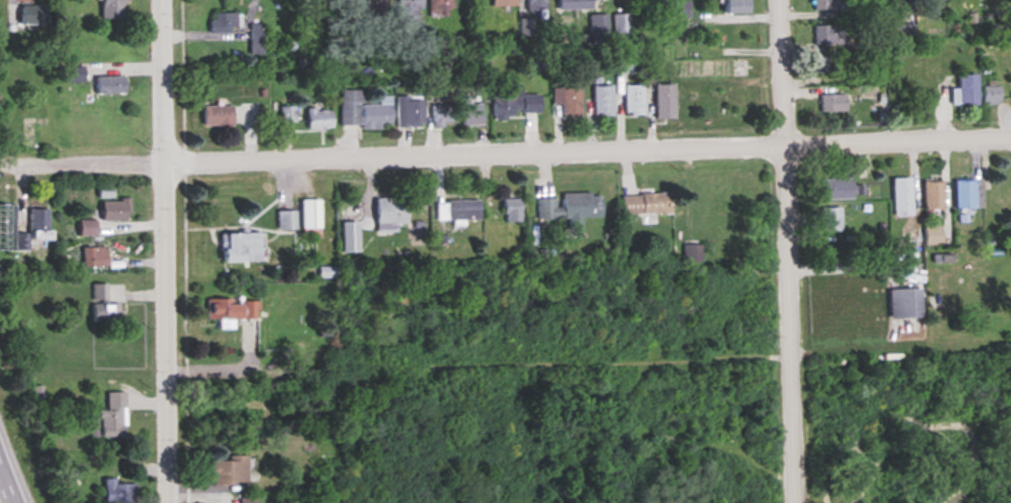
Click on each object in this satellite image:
building: (504, 3)
building: (536, 5)
building: (574, 5)
building: (824, 5)
building: (737, 6)
building: (441, 8)
building: (113, 9)
building: (376, 9)
building: (410, 9)
building: (683, 10)
building: (32, 14)
building: (225, 23)
building: (622, 28)
building: (598, 29)
building: (904, 30)
building: (831, 35)
building: (257, 39)
building: (825, 65)
building: (71, 74)
building: (110, 85)
building: (967, 90)
building: (992, 94)
building: (568, 100)
building: (603, 100)
building: (634, 100)
building: (665, 101)
building: (515, 103)
building: (833, 103)
building: (409, 111)
building: (364, 112)
building: (288, 114)
building: (471, 114)
building: (217, 115)
building: (442, 115)
building: (319, 118)
road: (505, 151)
building: (839, 189)
building: (969, 194)
building: (902, 195)
building: (934, 195)
building: (646, 203)
building: (567, 208)
building: (115, 210)
building: (457, 210)
building: (511, 210)
building: (390, 211)
building: (311, 216)
building: (831, 219)
building: (285, 220)
building: (39, 224)
building: (87, 228)
building: (912, 235)
building: (933, 235)
building: (241, 247)
road: (164, 251)
road: (789, 251)
building: (692, 252)
building: (94, 257)
building: (98, 292)
building: (906, 303)
building: (232, 310)
building: (105, 313)
road: (614, 364)
road: (145, 398)
building: (111, 417)
road: (970, 419)
road: (925, 426)
road: (655, 437)
building: (228, 471)
road: (6, 487)
building: (119, 492)
building: (247, 500)

